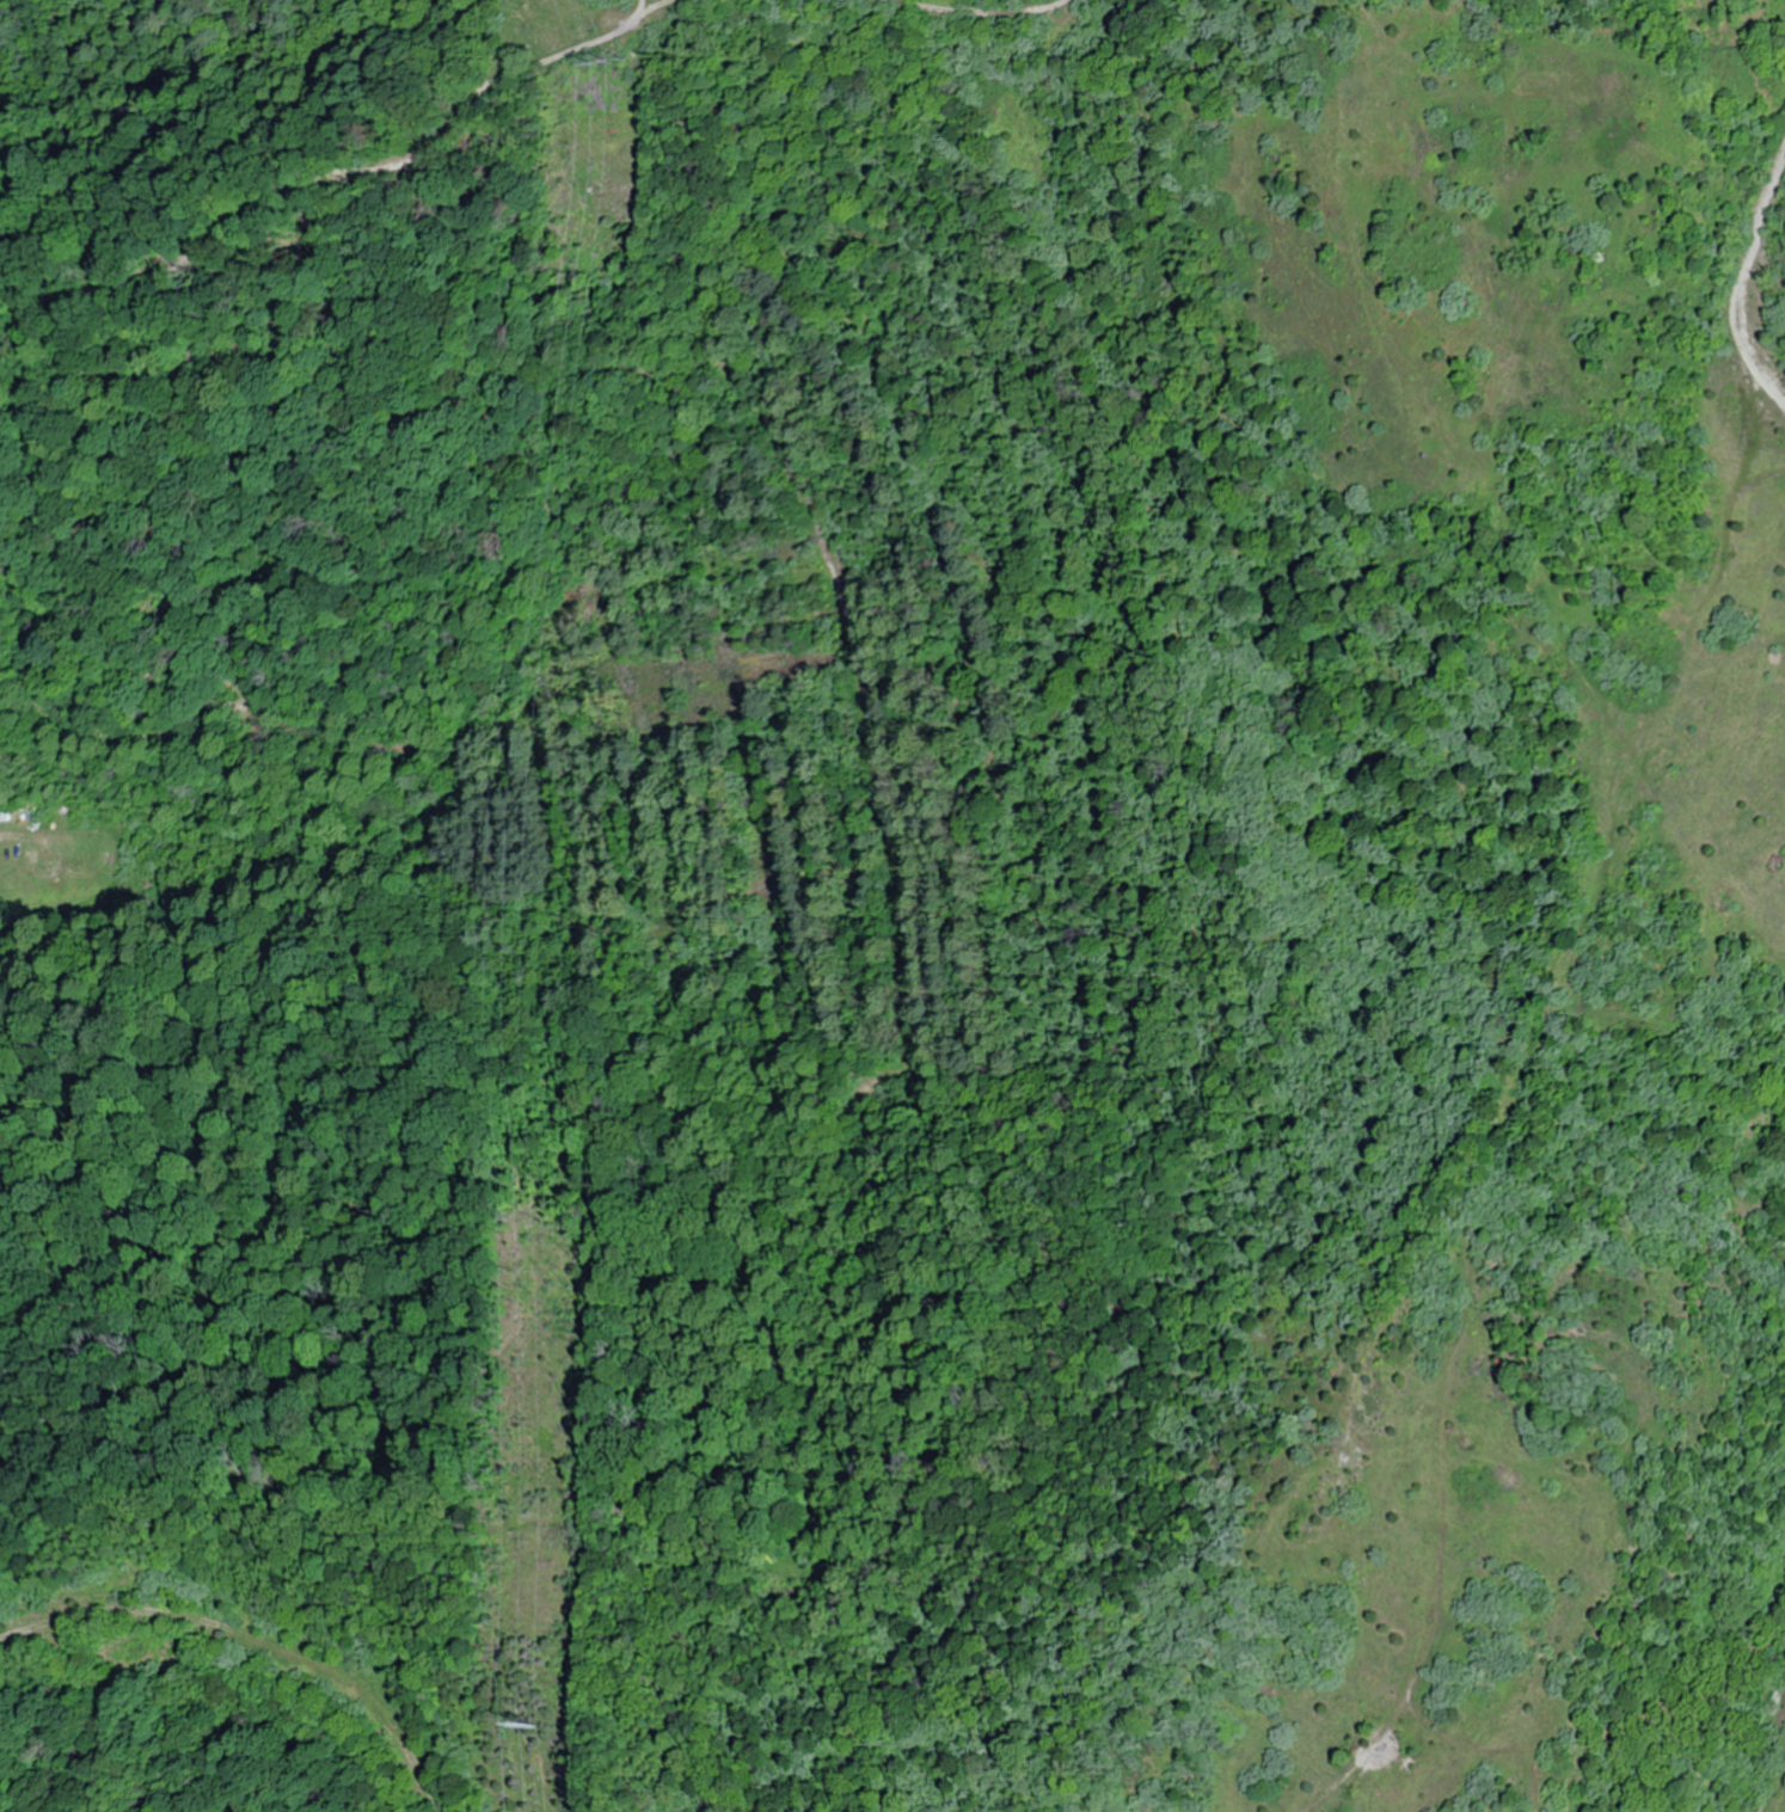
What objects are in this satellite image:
power tower: (606, 53)
power tower: (532, 1726)

